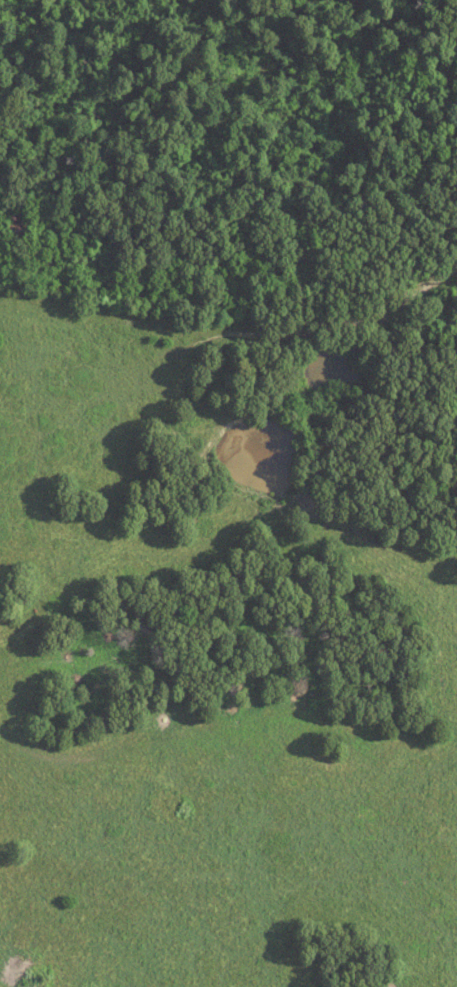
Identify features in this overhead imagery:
building: (16, 227)

